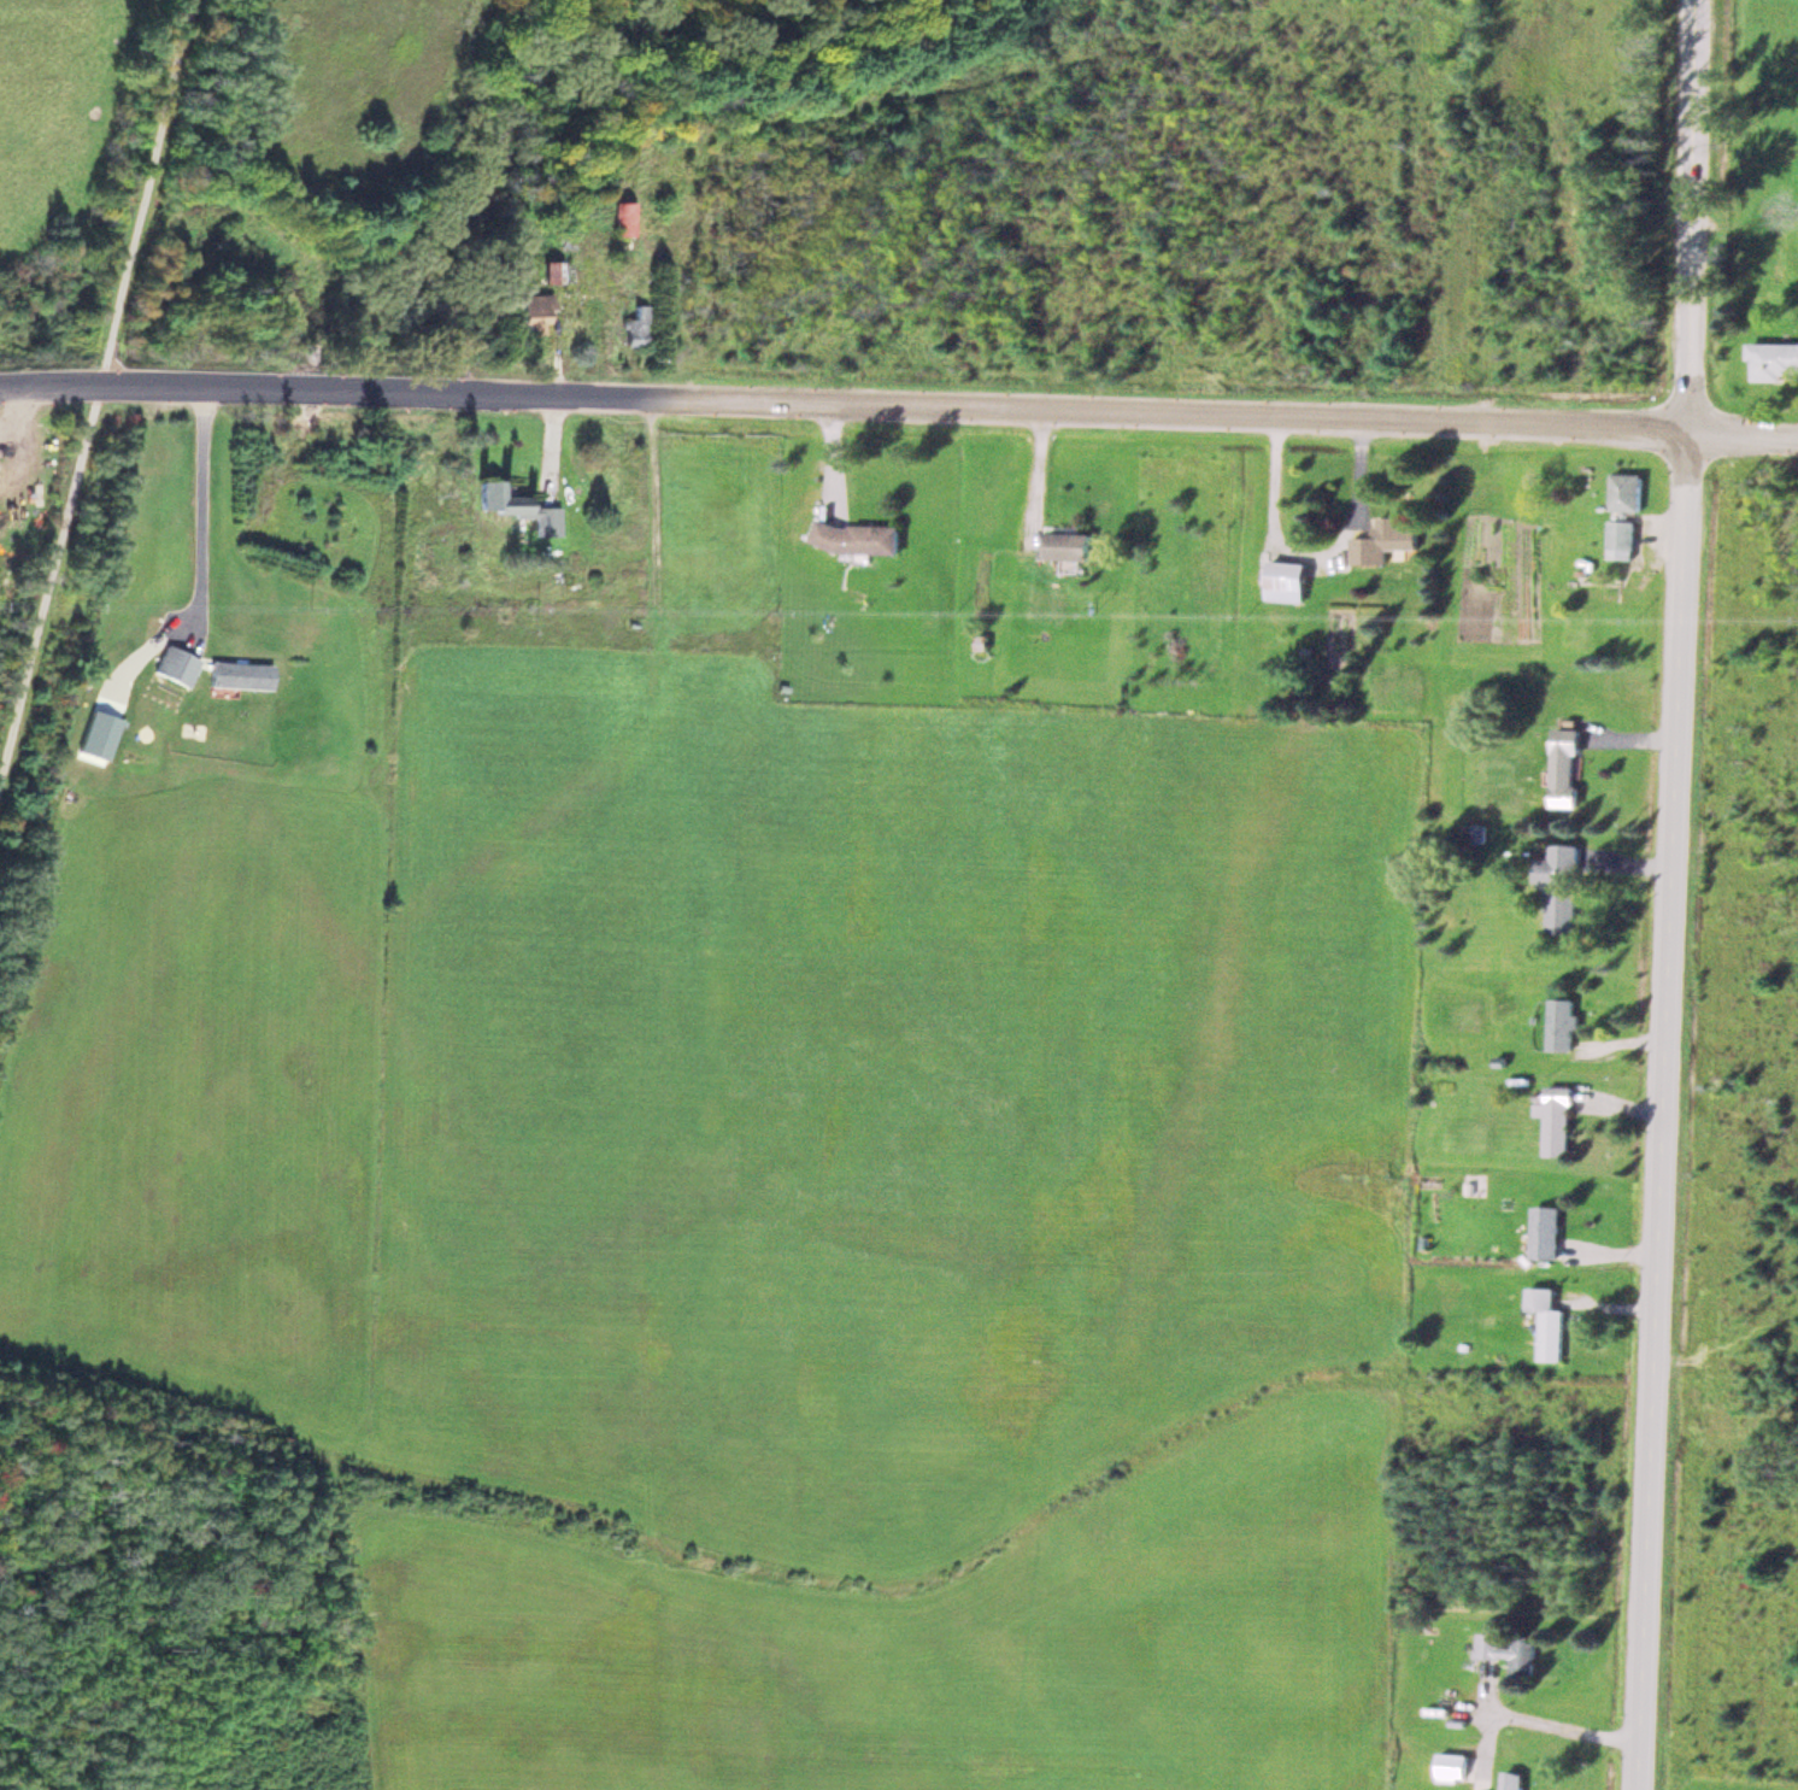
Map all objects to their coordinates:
building: (619, 216)
building: (553, 270)
building: (529, 311)
building: (630, 324)
building: (1774, 360)
road: (93, 378)
road: (842, 404)
road: (1741, 432)
building: (1624, 489)
building: (513, 505)
building: (854, 536)
building: (1620, 538)
building: (1382, 540)
building: (1067, 544)
building: (1281, 579)
building: (974, 640)
building: (172, 664)
building: (236, 674)
building: (1564, 767)
building: (1559, 885)
road: (1670, 894)
building: (1559, 1023)
building: (1556, 1120)
building: (1543, 1232)
building: (1545, 1321)
building: (1506, 1648)
building: (1450, 1766)
building: (1510, 1779)

